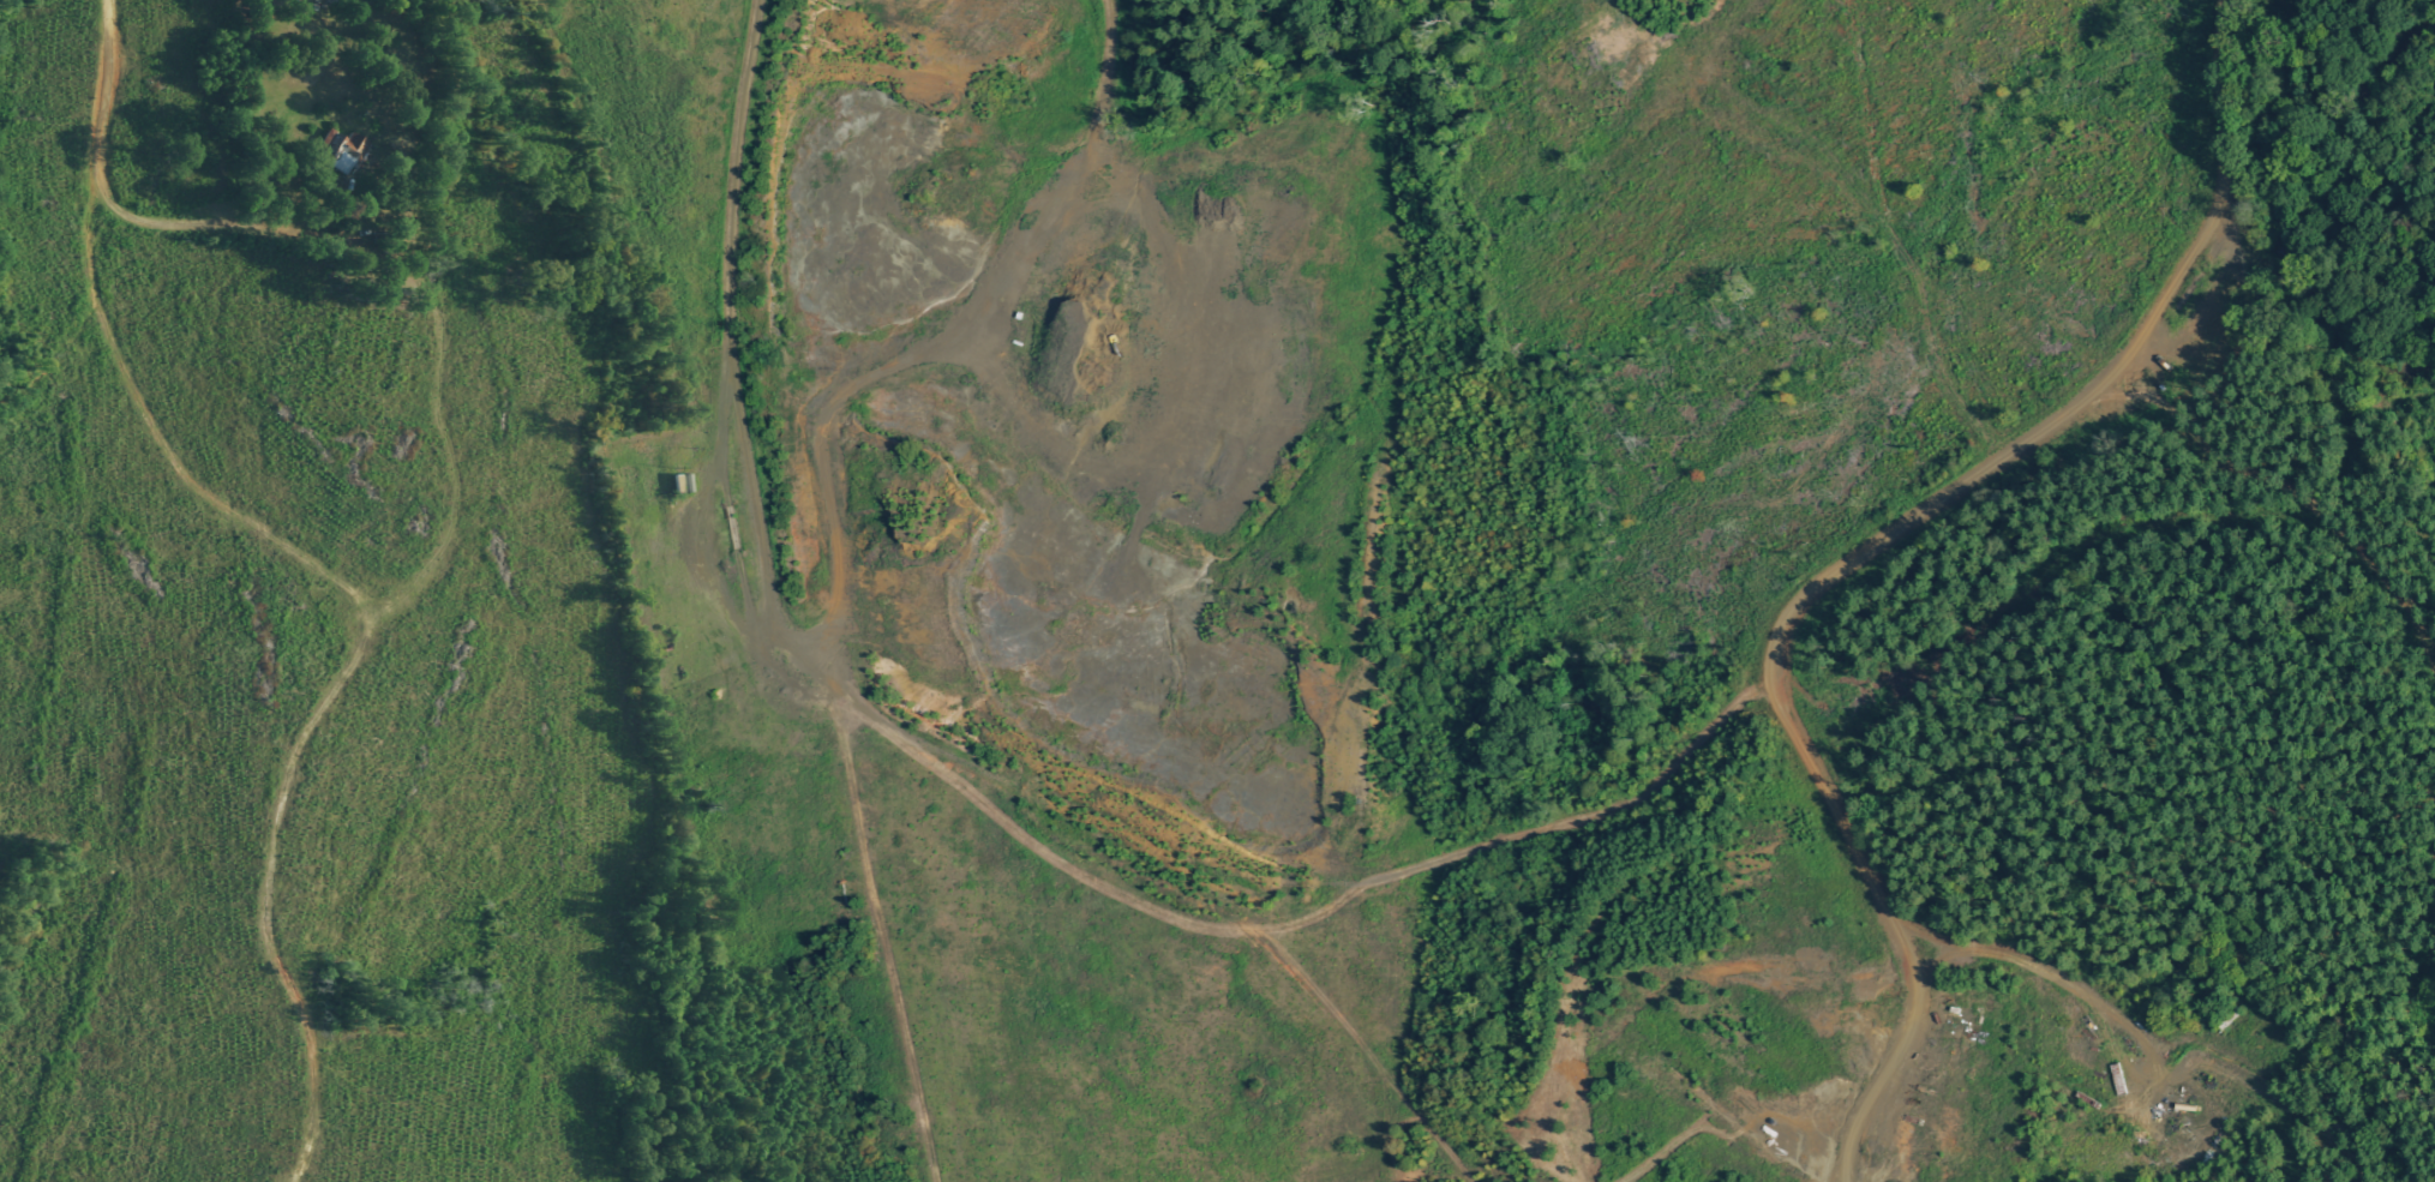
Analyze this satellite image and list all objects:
road: (65, 176)
road: (1739, 604)

